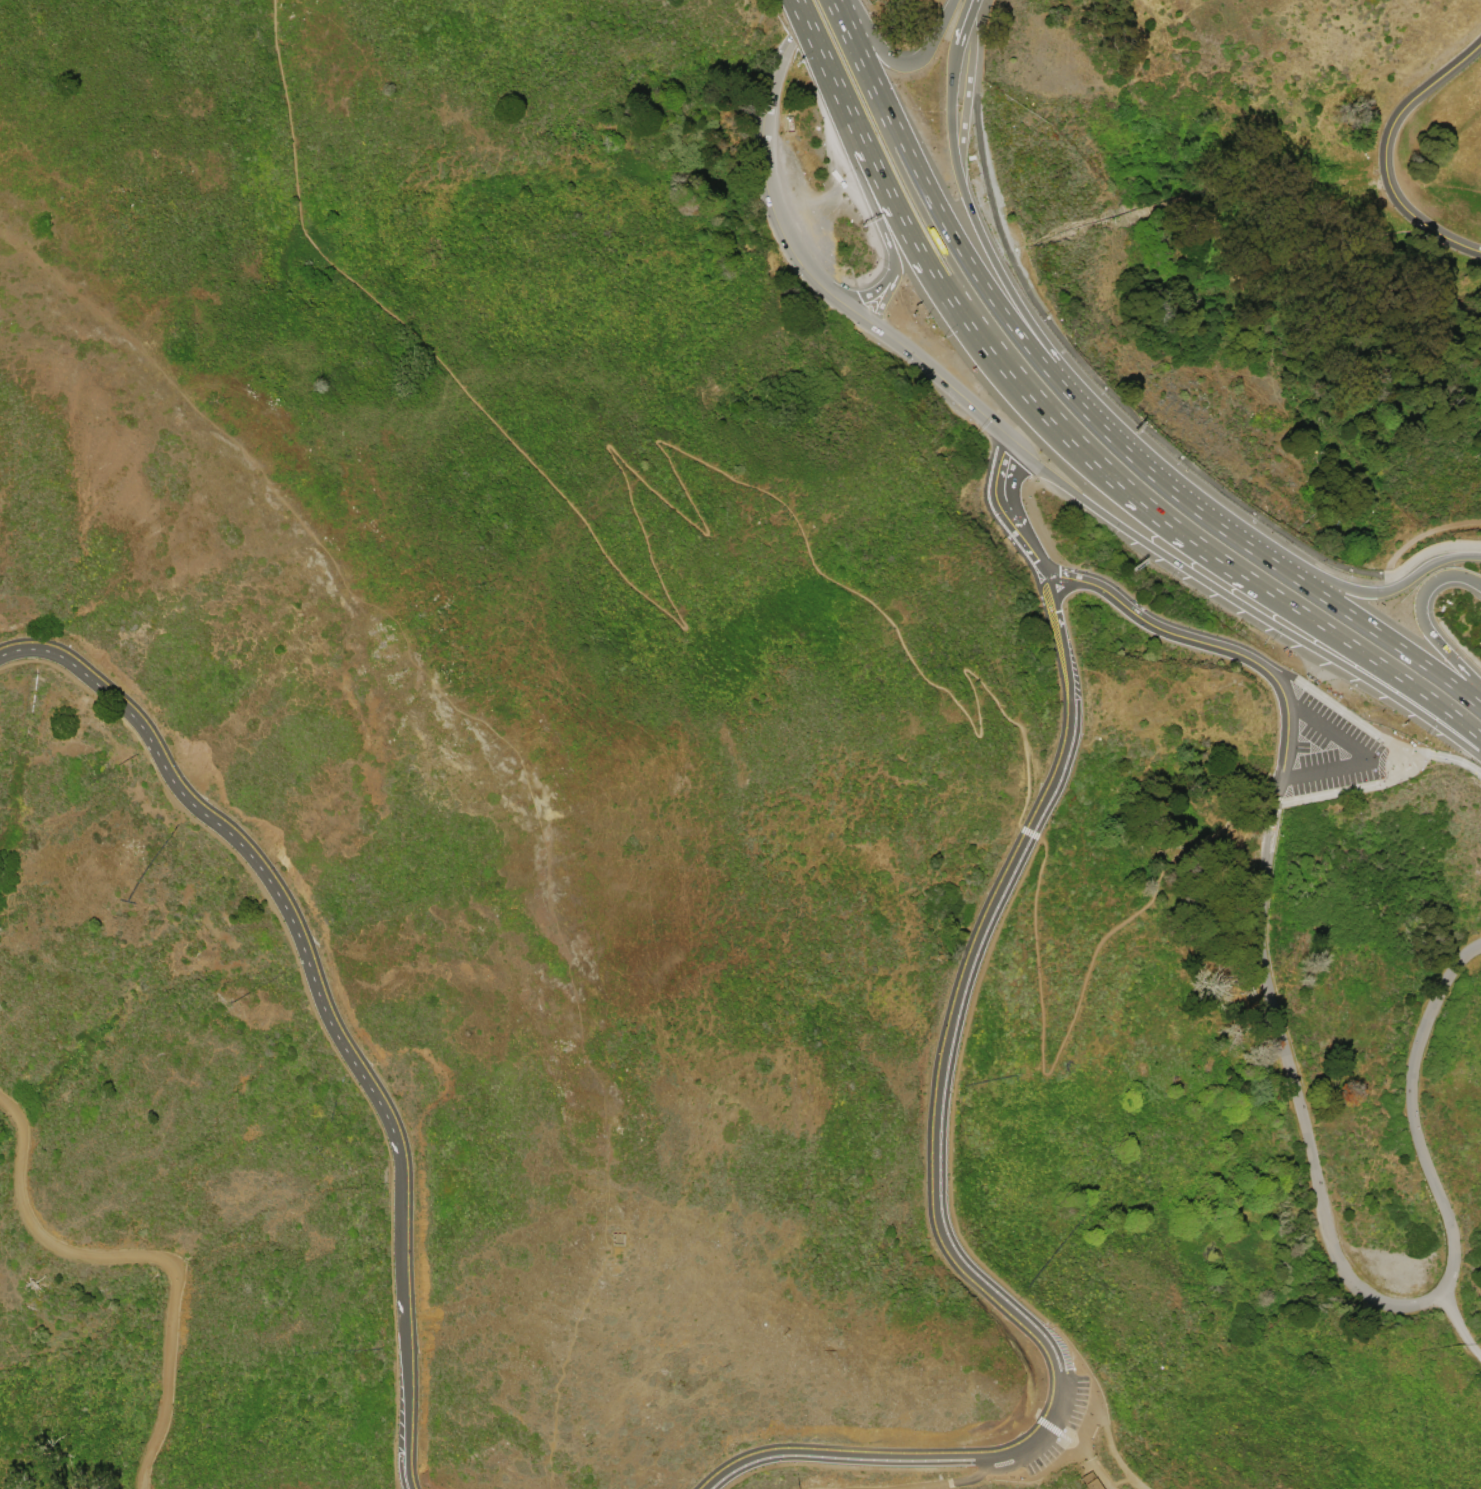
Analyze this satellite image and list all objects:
road: (973, 2)
road: (973, 2)
road: (971, 9)
road: (963, 28)
road: (900, 63)
road: (865, 72)
road: (964, 99)
road: (949, 114)
road: (839, 132)
road: (1389, 152)
road: (817, 280)
road: (870, 291)
road: (884, 295)
road: (996, 308)
road: (1030, 324)
road: (1111, 395)
road: (1062, 437)
road: (611, 456)
road: (1182, 500)
road: (1008, 513)
road: (1424, 533)
road: (1058, 587)
road: (1363, 591)
road: (1244, 606)
road: (1420, 618)
road: (1152, 624)
road: (1364, 624)
road: (1280, 685)
road: (1336, 707)
road: (1070, 708)
road: (1331, 730)
road: (1286, 743)
parking lot: (1329, 749)
road: (1440, 755)
road: (1387, 758)
road: (1326, 770)
road: (1477, 770)
road: (1474, 773)
road: (1279, 788)
road: (1348, 789)
road: (1273, 813)
road: (1023, 828)
road: (1025, 864)
road: (327, 997)
road: (1070, 1015)
building: (617, 1238)
road: (144, 1257)
road: (1355, 1282)
road: (1001, 1298)
road: (1459, 1324)
parking lot: (1078, 1402)
road: (1078, 1447)
parking lot: (1043, 1458)
road: (1123, 1469)
building: (1087, 1477)
road: (1127, 1478)
road: (954, 1480)
building: (1093, 1484)
road: (1112, 1486)

